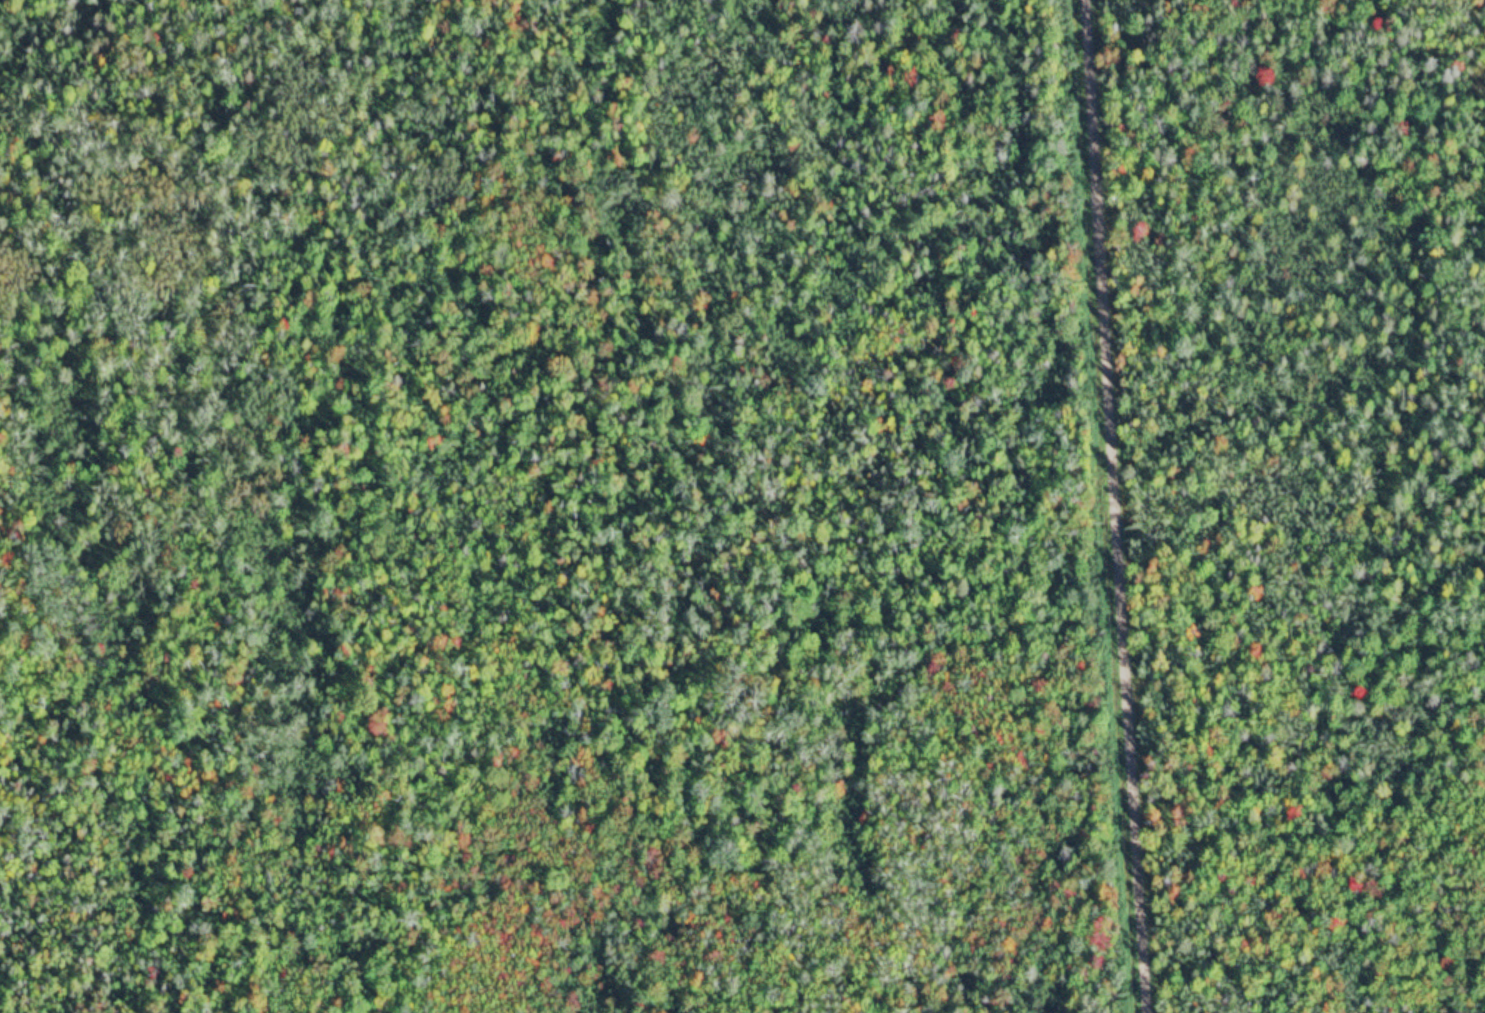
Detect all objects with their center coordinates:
road: (1107, 506)

